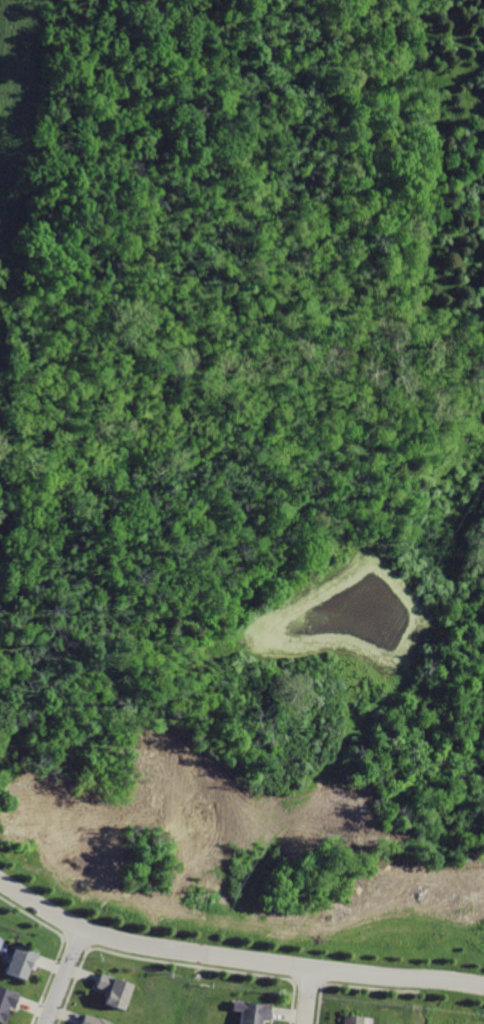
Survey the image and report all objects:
road: (234, 956)
building: (16, 962)
road: (62, 975)
building: (110, 990)
road: (306, 995)
building: (6, 999)
building: (250, 1012)
building: (348, 1019)
building: (90, 1020)

